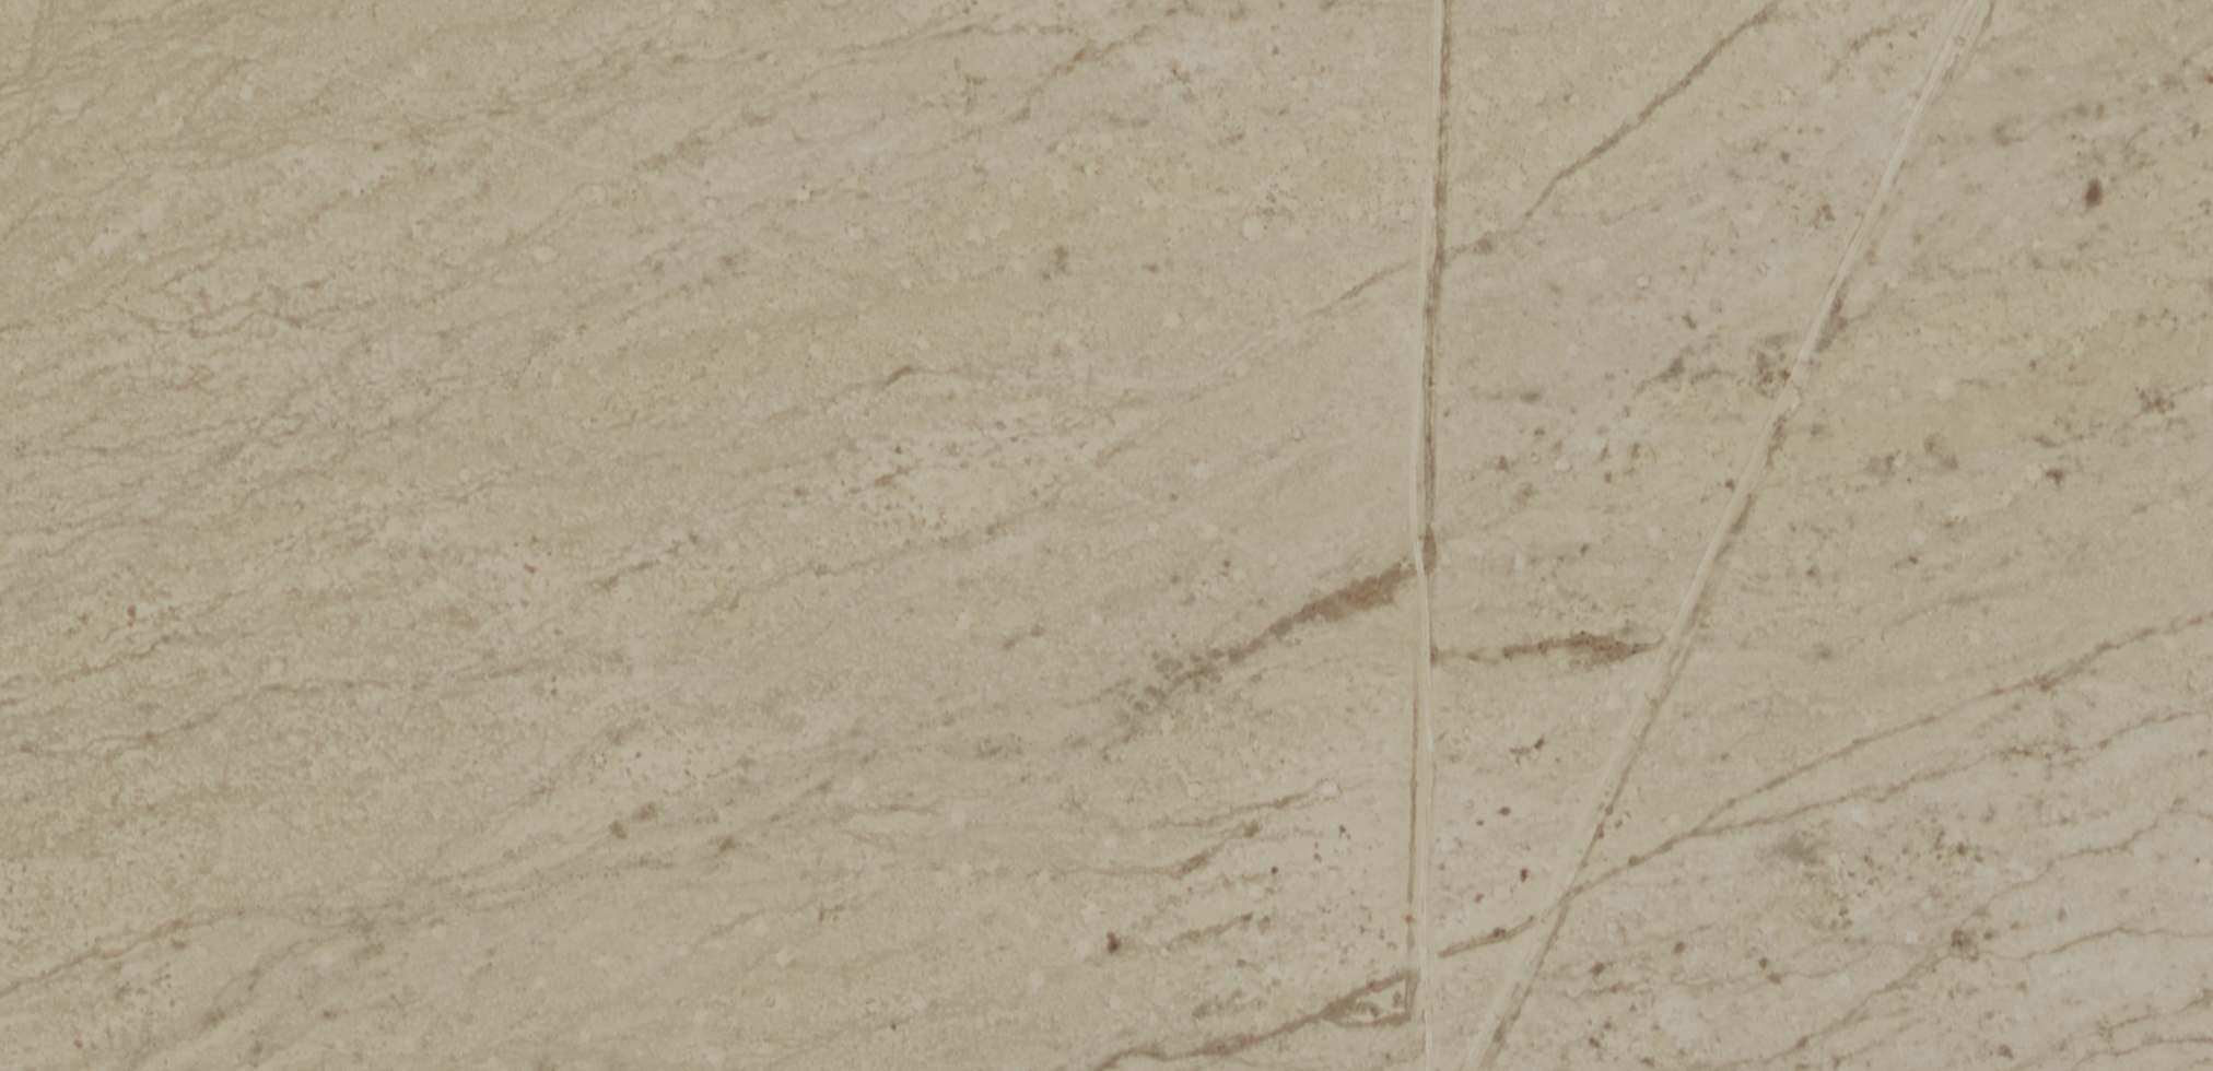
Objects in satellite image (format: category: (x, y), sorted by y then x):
road: (28, 283)
road: (1431, 535)

